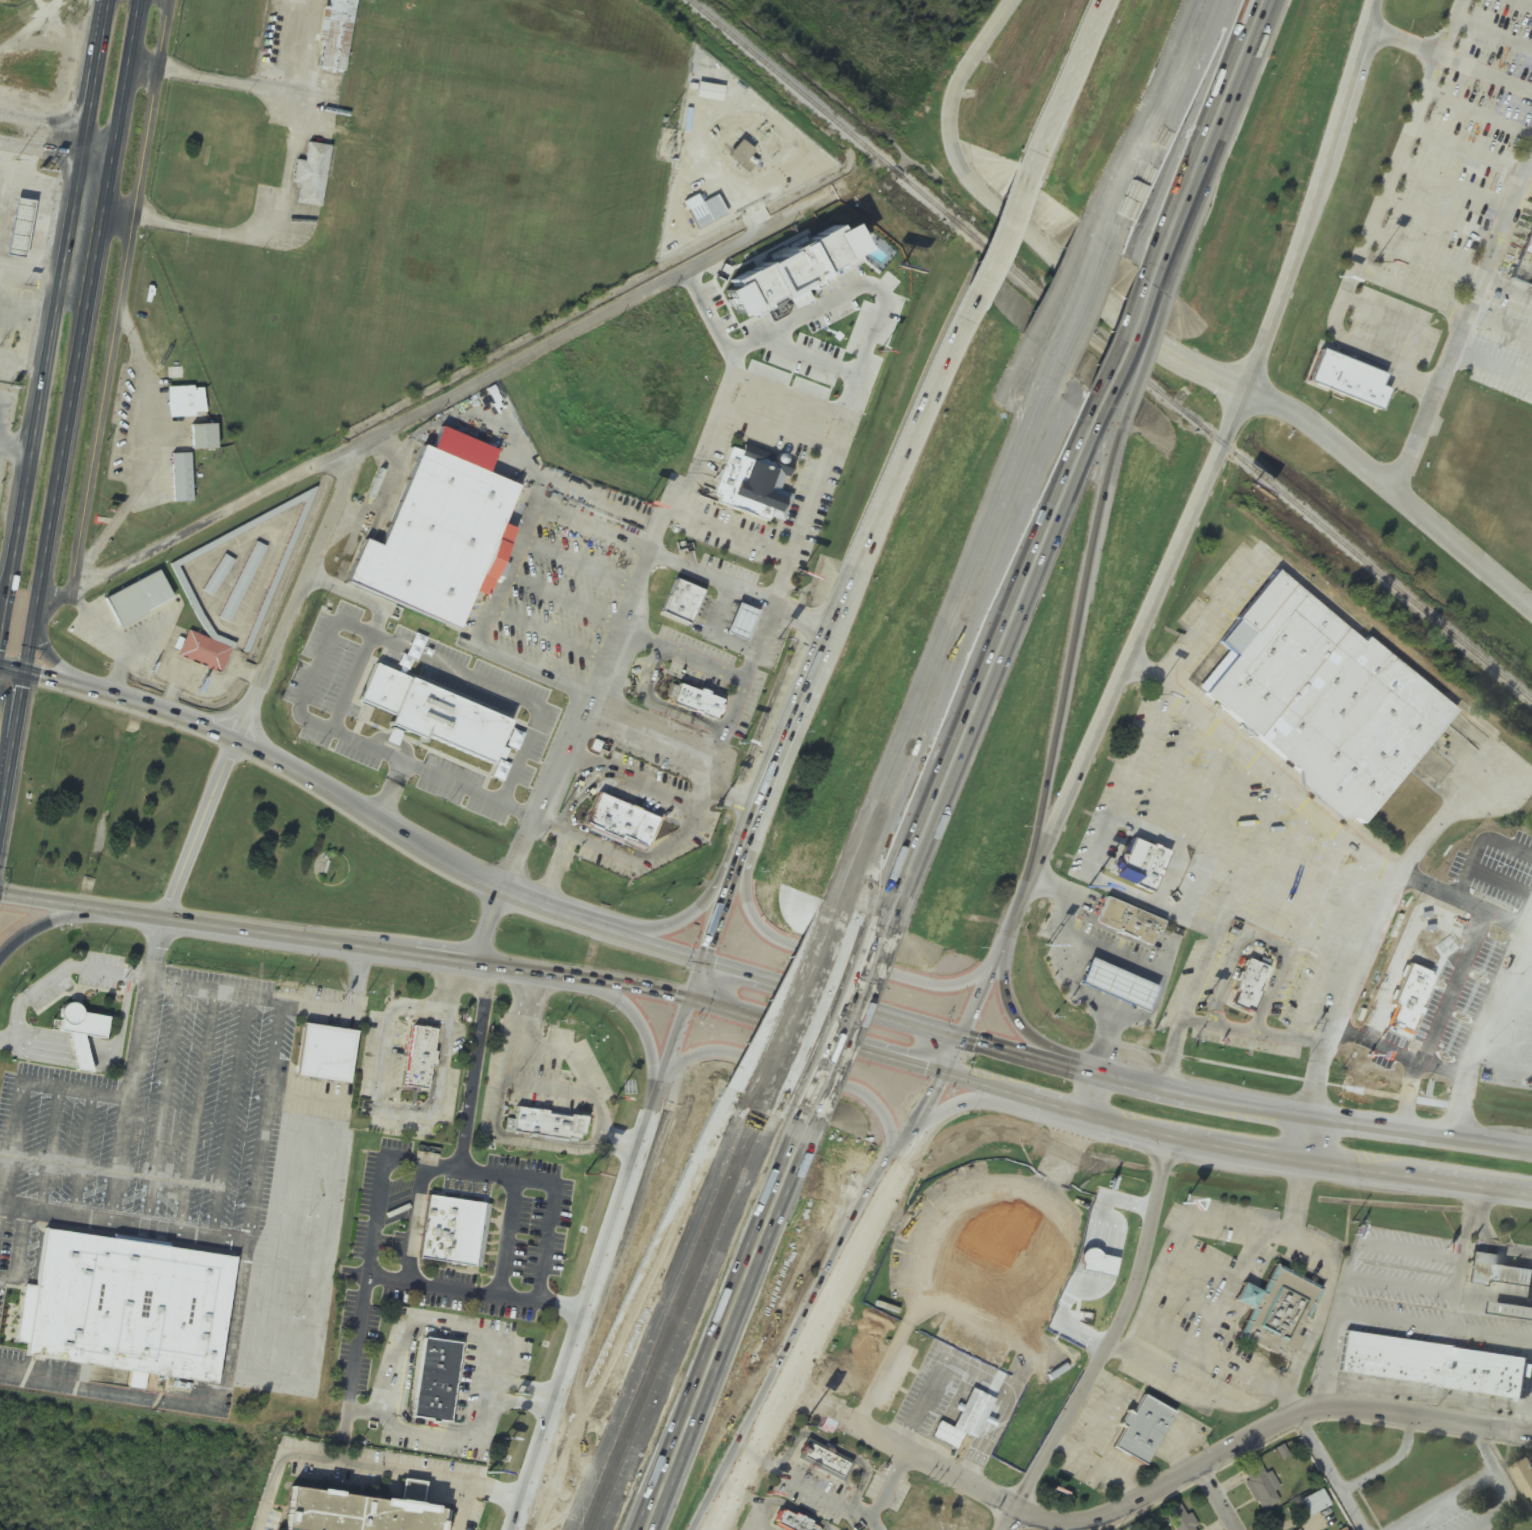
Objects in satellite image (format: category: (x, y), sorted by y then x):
building: (2, 1)
road: (1094, 24)
building: (335, 36)
road: (1449, 60)
road: (144, 66)
building: (28, 71)
road: (1067, 81)
building: (709, 93)
road: (59, 122)
road: (1157, 122)
road: (1206, 136)
road: (1219, 144)
road: (57, 150)
building: (739, 153)
power tower: (16, 162)
building: (312, 175)
building: (705, 213)
road: (119, 214)
building: (18, 227)
road: (1007, 229)
building: (31, 234)
gas station: (31, 234)
building: (1423, 243)
building: (1530, 251)
building: (791, 268)
road: (120, 294)
road: (1083, 304)
road: (52, 324)
road: (1464, 326)
road: (1123, 339)
road: (1139, 347)
road: (1160, 347)
railway: (1110, 350)
road: (1493, 364)
building: (1358, 386)
road: (450, 395)
building: (185, 402)
road: (72, 415)
road: (775, 431)
building: (203, 437)
road: (1218, 452)
building: (181, 478)
building: (756, 482)
road: (873, 526)
road: (736, 537)
building: (445, 538)
building: (218, 576)
building: (275, 580)
building: (242, 583)
building: (138, 599)
road: (5, 605)
building: (692, 608)
road: (340, 626)
building: (752, 628)
gas station: (752, 628)
road: (614, 633)
road: (947, 641)
building: (204, 653)
road: (1068, 658)
road: (58, 663)
road: (990, 669)
traffic signals: (27, 674)
building: (504, 676)
road: (261, 680)
building: (1323, 698)
building: (707, 706)
road: (666, 745)
road: (419, 769)
road: (298, 773)
road: (392, 794)
road: (730, 798)
road: (759, 803)
road: (699, 815)
building: (632, 827)
road: (864, 832)
road: (565, 856)
building: (1145, 861)
road: (1021, 901)
road: (723, 904)
road: (56, 920)
road: (680, 923)
road: (488, 927)
building: (1139, 929)
road: (641, 941)
road: (346, 944)
road: (837, 955)
traffic signals: (704, 963)
road: (991, 973)
road: (698, 981)
building: (1247, 986)
building: (1261, 991)
building: (1415, 993)
building: (1129, 994)
gas station: (1129, 994)
traffic signals: (692, 999)
road: (833, 999)
road: (778, 1002)
road: (1009, 1004)
road: (798, 1009)
road: (637, 1017)
building: (1393, 1021)
road: (847, 1022)
building: (81, 1024)
road: (820, 1034)
traffic signals: (962, 1035)
building: (327, 1050)
road: (1020, 1051)
building: (421, 1056)
traffic signals: (948, 1069)
road: (811, 1073)
road: (1096, 1093)
road: (957, 1106)
road: (1304, 1116)
building: (547, 1122)
road: (1309, 1137)
road: (1235, 1147)
road: (484, 1174)
building: (455, 1228)
road: (599, 1263)
building: (1496, 1273)
building: (990, 1276)
road: (837, 1282)
road: (452, 1290)
road: (629, 1308)
building: (127, 1309)
building: (1276, 1310)
building: (1511, 1312)
road: (675, 1314)
road: (721, 1321)
road: (424, 1329)
road: (1114, 1331)
building: (1430, 1366)
road: (354, 1367)
road: (521, 1386)
building: (448, 1387)
road: (518, 1403)
building: (1141, 1430)
road: (435, 1433)
building: (826, 1460)
road: (1388, 1463)
road: (1329, 1471)
building: (1526, 1474)
road: (1502, 1483)
building: (1259, 1486)
road: (1150, 1492)
road: (1215, 1498)
road: (1441, 1500)
building: (1314, 1503)
road: (466, 1506)
building: (362, 1518)
road: (1009, 1519)
building: (1180, 1519)
building: (794, 1521)

